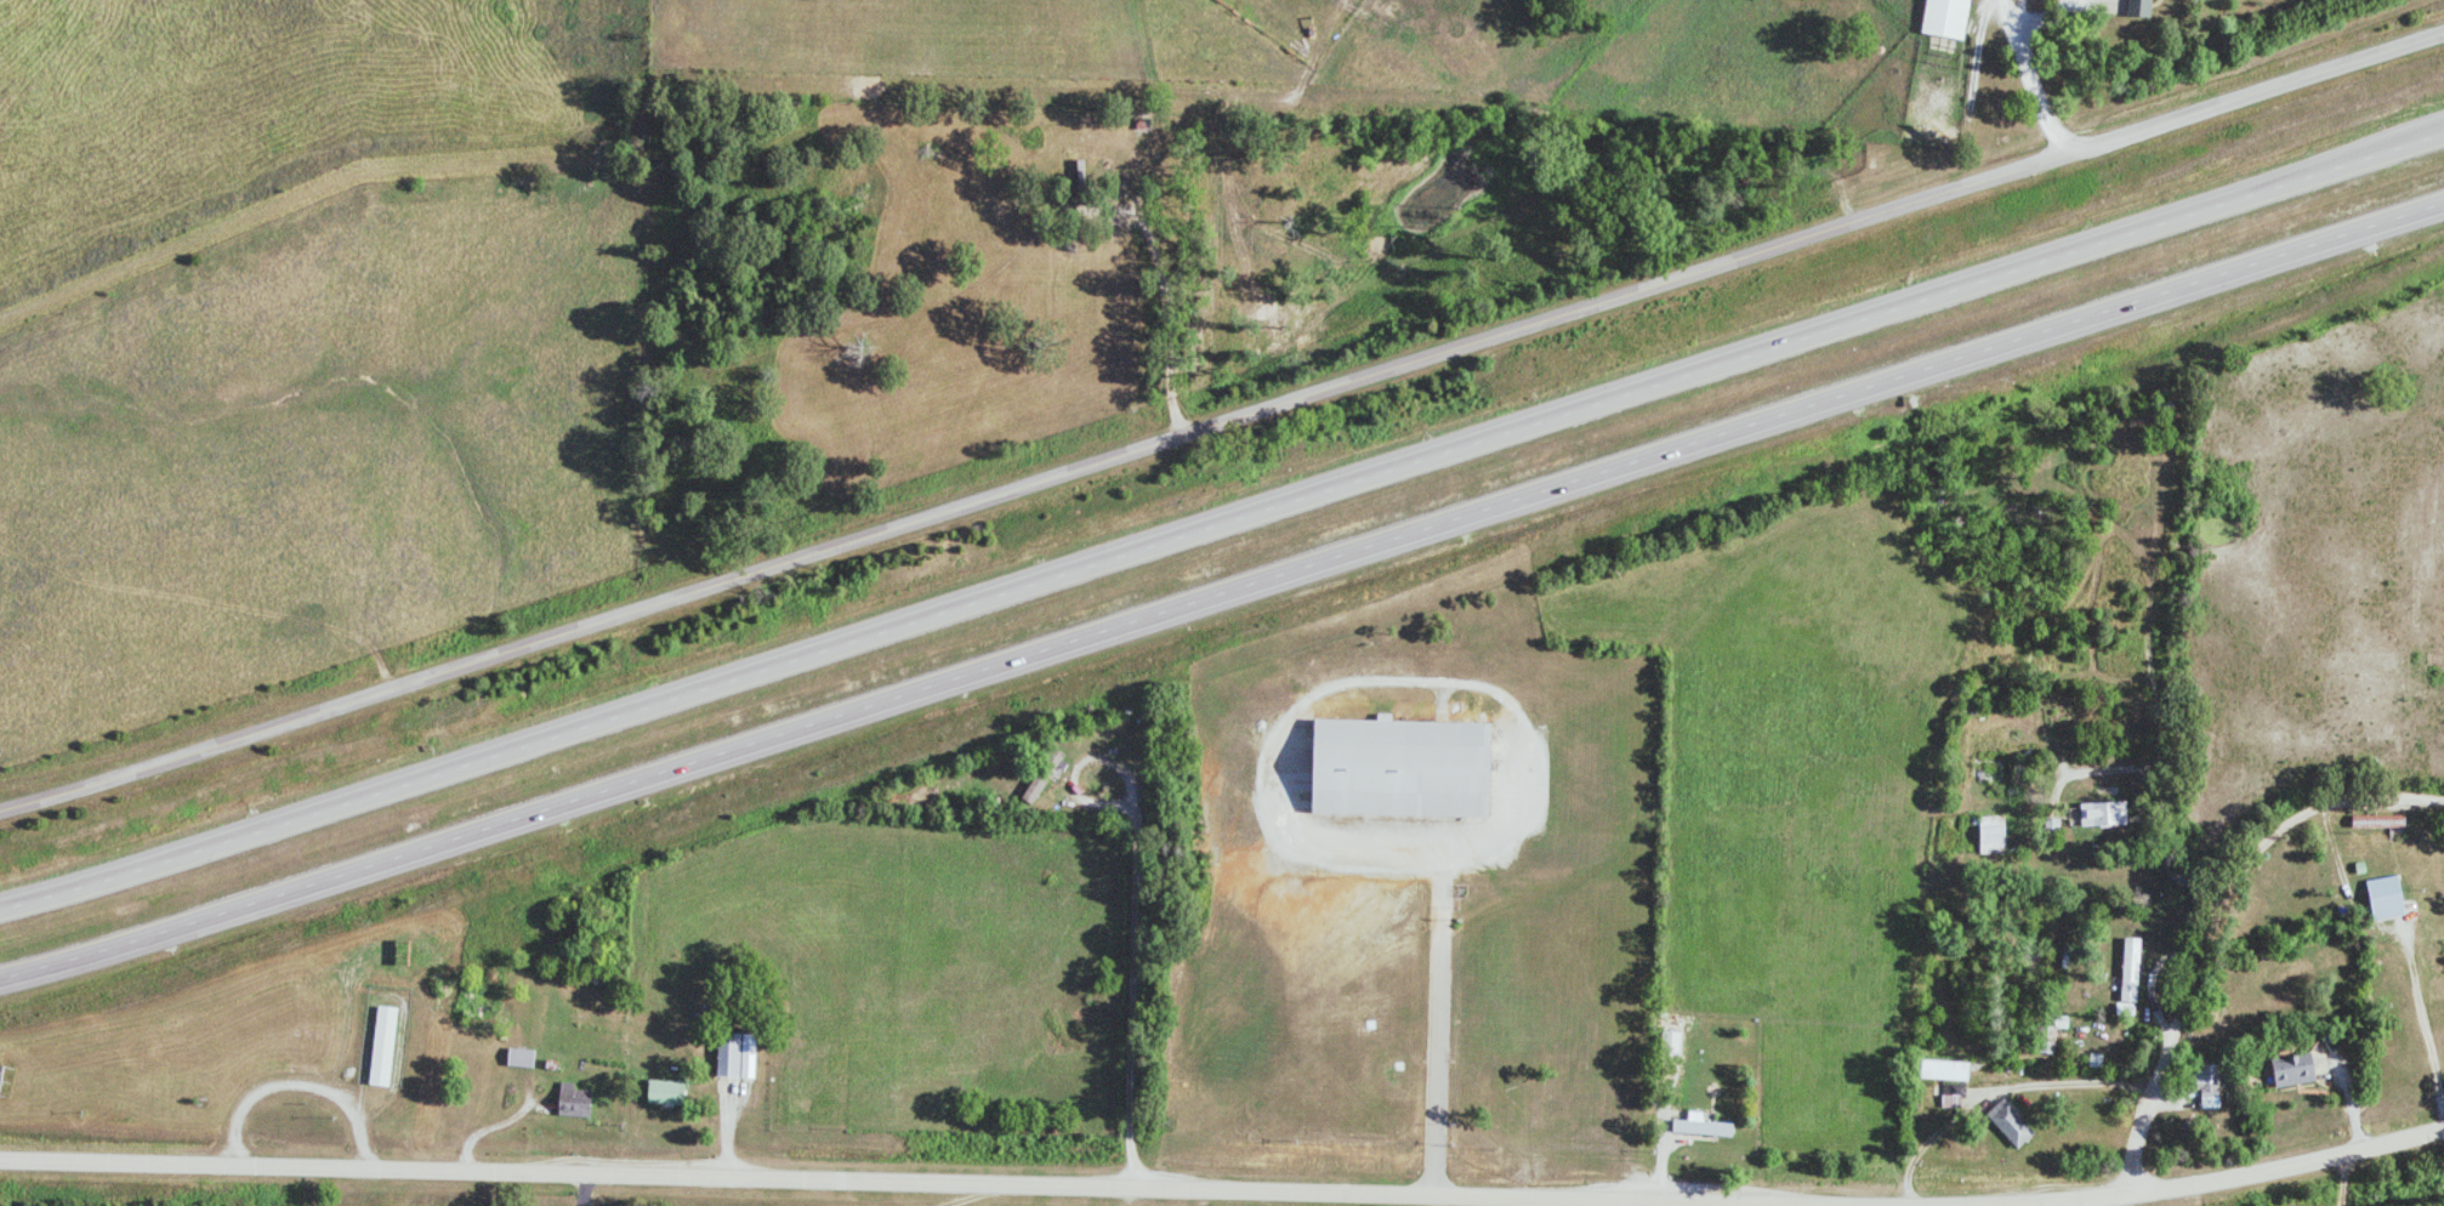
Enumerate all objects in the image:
building: (2192, 0)
building: (2138, 8)
building: (1944, 18)
road: (2028, 69)
road: (1222, 422)
road: (1223, 524)
road: (1223, 593)
road: (1114, 763)
building: (1398, 768)
building: (1040, 775)
building: (2105, 790)
building: (2102, 814)
building: (2376, 821)
building: (1990, 835)
building: (2383, 898)
road: (2213, 920)
building: (2128, 969)
road: (1138, 996)
building: (2124, 1009)
road: (1438, 1011)
road: (2426, 1019)
building: (2052, 1034)
building: (1669, 1043)
building: (382, 1046)
building: (733, 1056)
building: (518, 1058)
building: (1942, 1070)
building: (2290, 1070)
road: (2091, 1079)
building: (2206, 1085)
building: (663, 1092)
road: (723, 1099)
building: (572, 1100)
building: (2008, 1123)
building: (1699, 1126)
road: (2211, 1177)
road: (985, 1181)
road: (1618, 1199)

